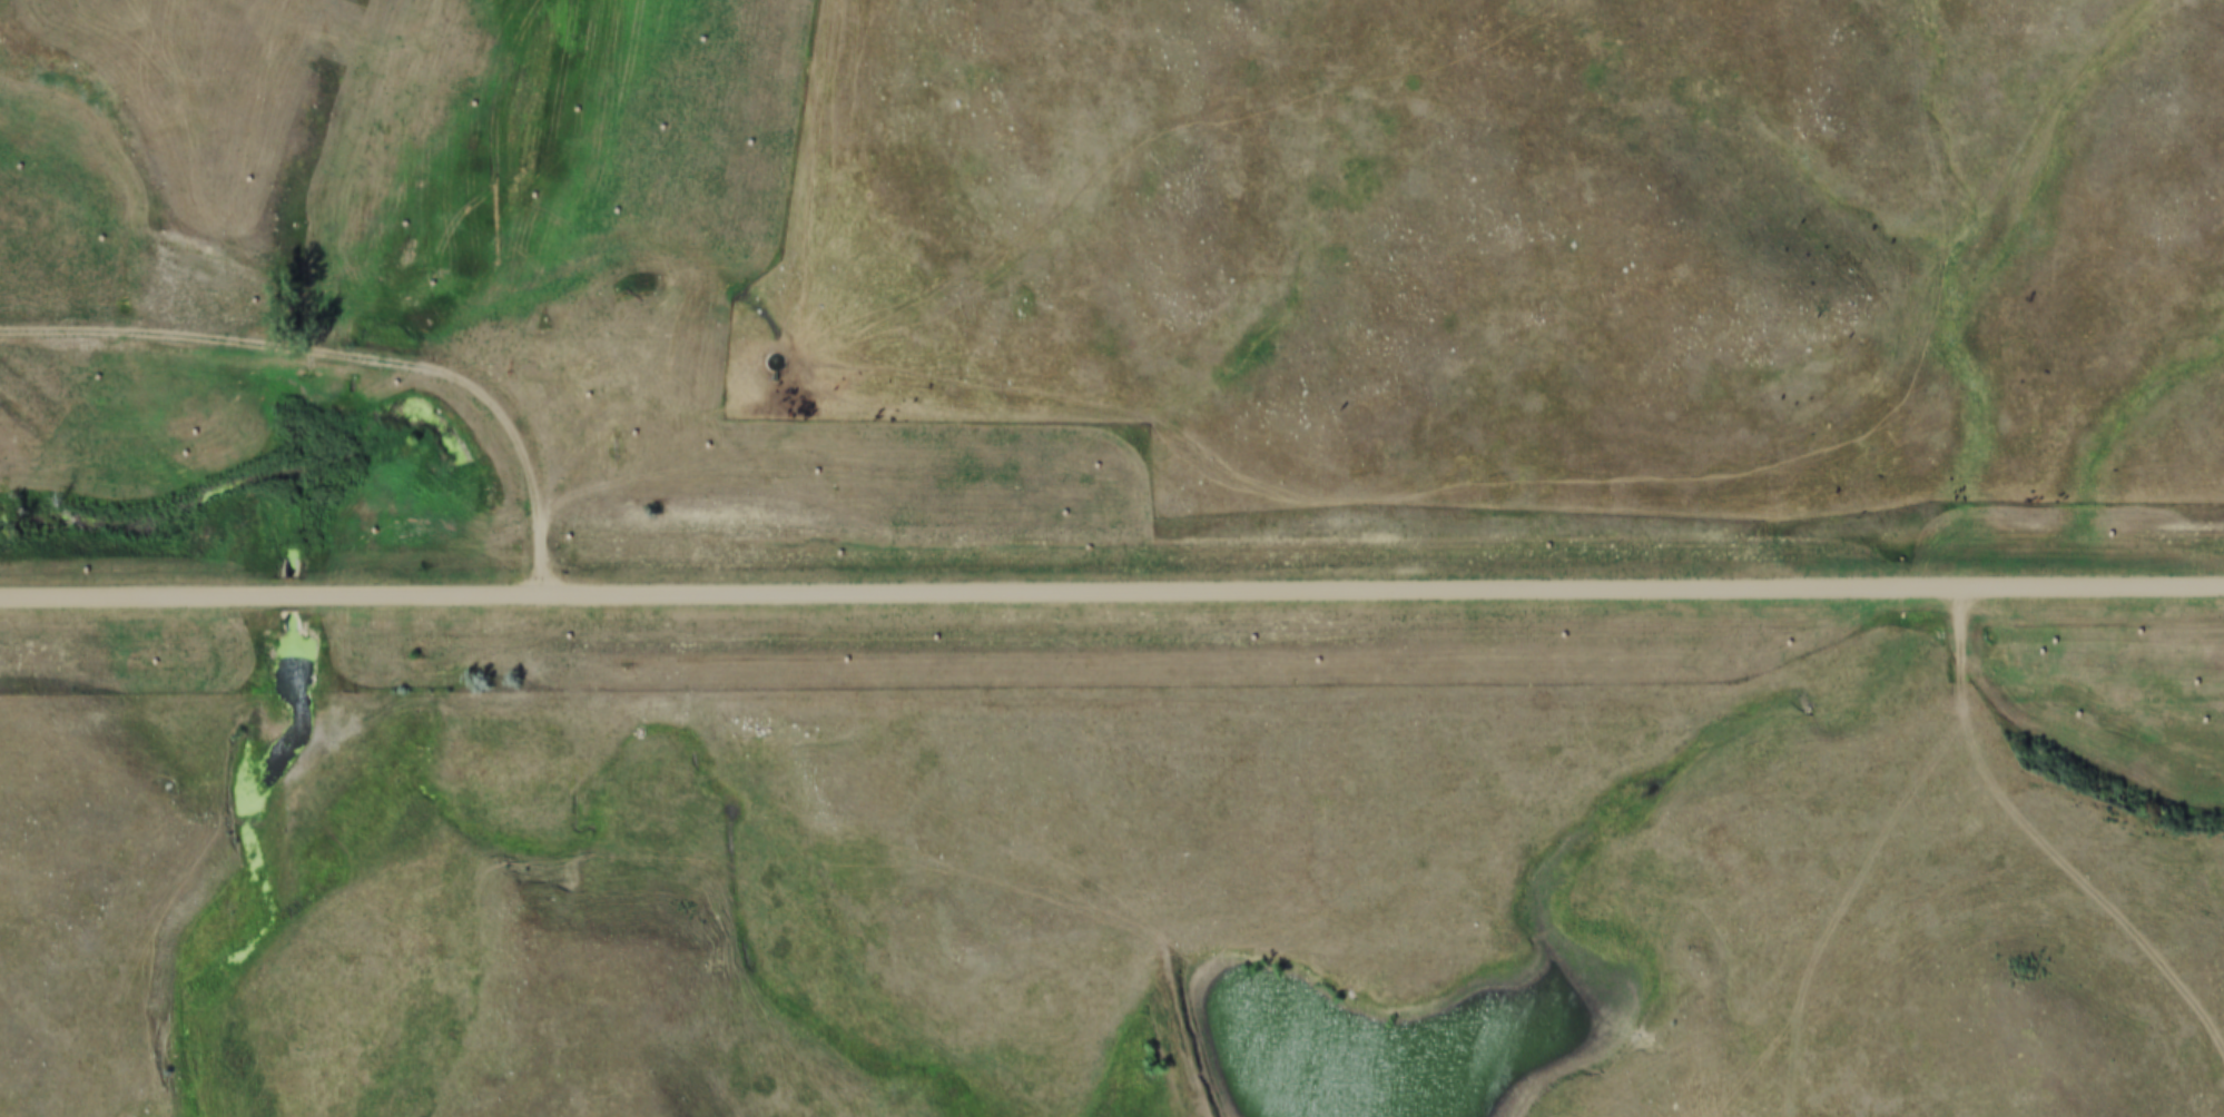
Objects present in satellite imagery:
road: (799, 329)
road: (352, 355)
road: (1112, 596)
road: (1878, 846)

